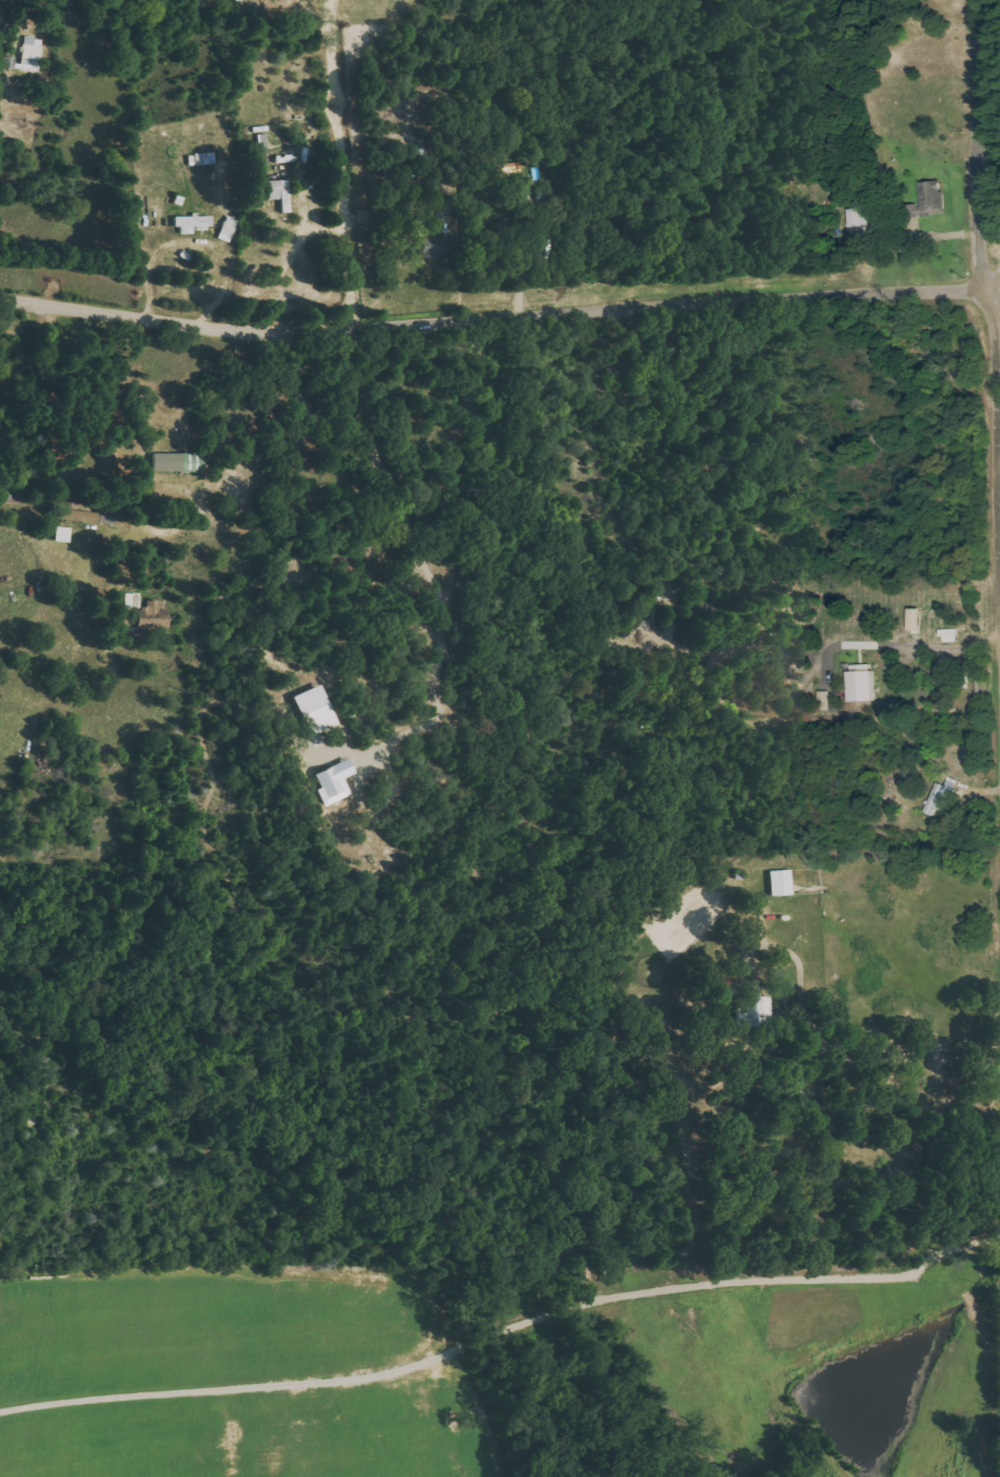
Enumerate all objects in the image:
building: (31, 52)
road: (976, 145)
road: (335, 165)
building: (280, 193)
building: (931, 199)
building: (193, 223)
building: (228, 229)
building: (434, 248)
road: (994, 277)
road: (994, 287)
road: (493, 320)
road: (996, 428)
building: (178, 462)
building: (72, 514)
building: (88, 516)
building: (107, 523)
building: (62, 533)
building: (132, 600)
building: (153, 616)
building: (916, 619)
building: (863, 682)
building: (311, 699)
building: (824, 700)
building: (334, 781)
building: (942, 796)
building: (781, 882)

